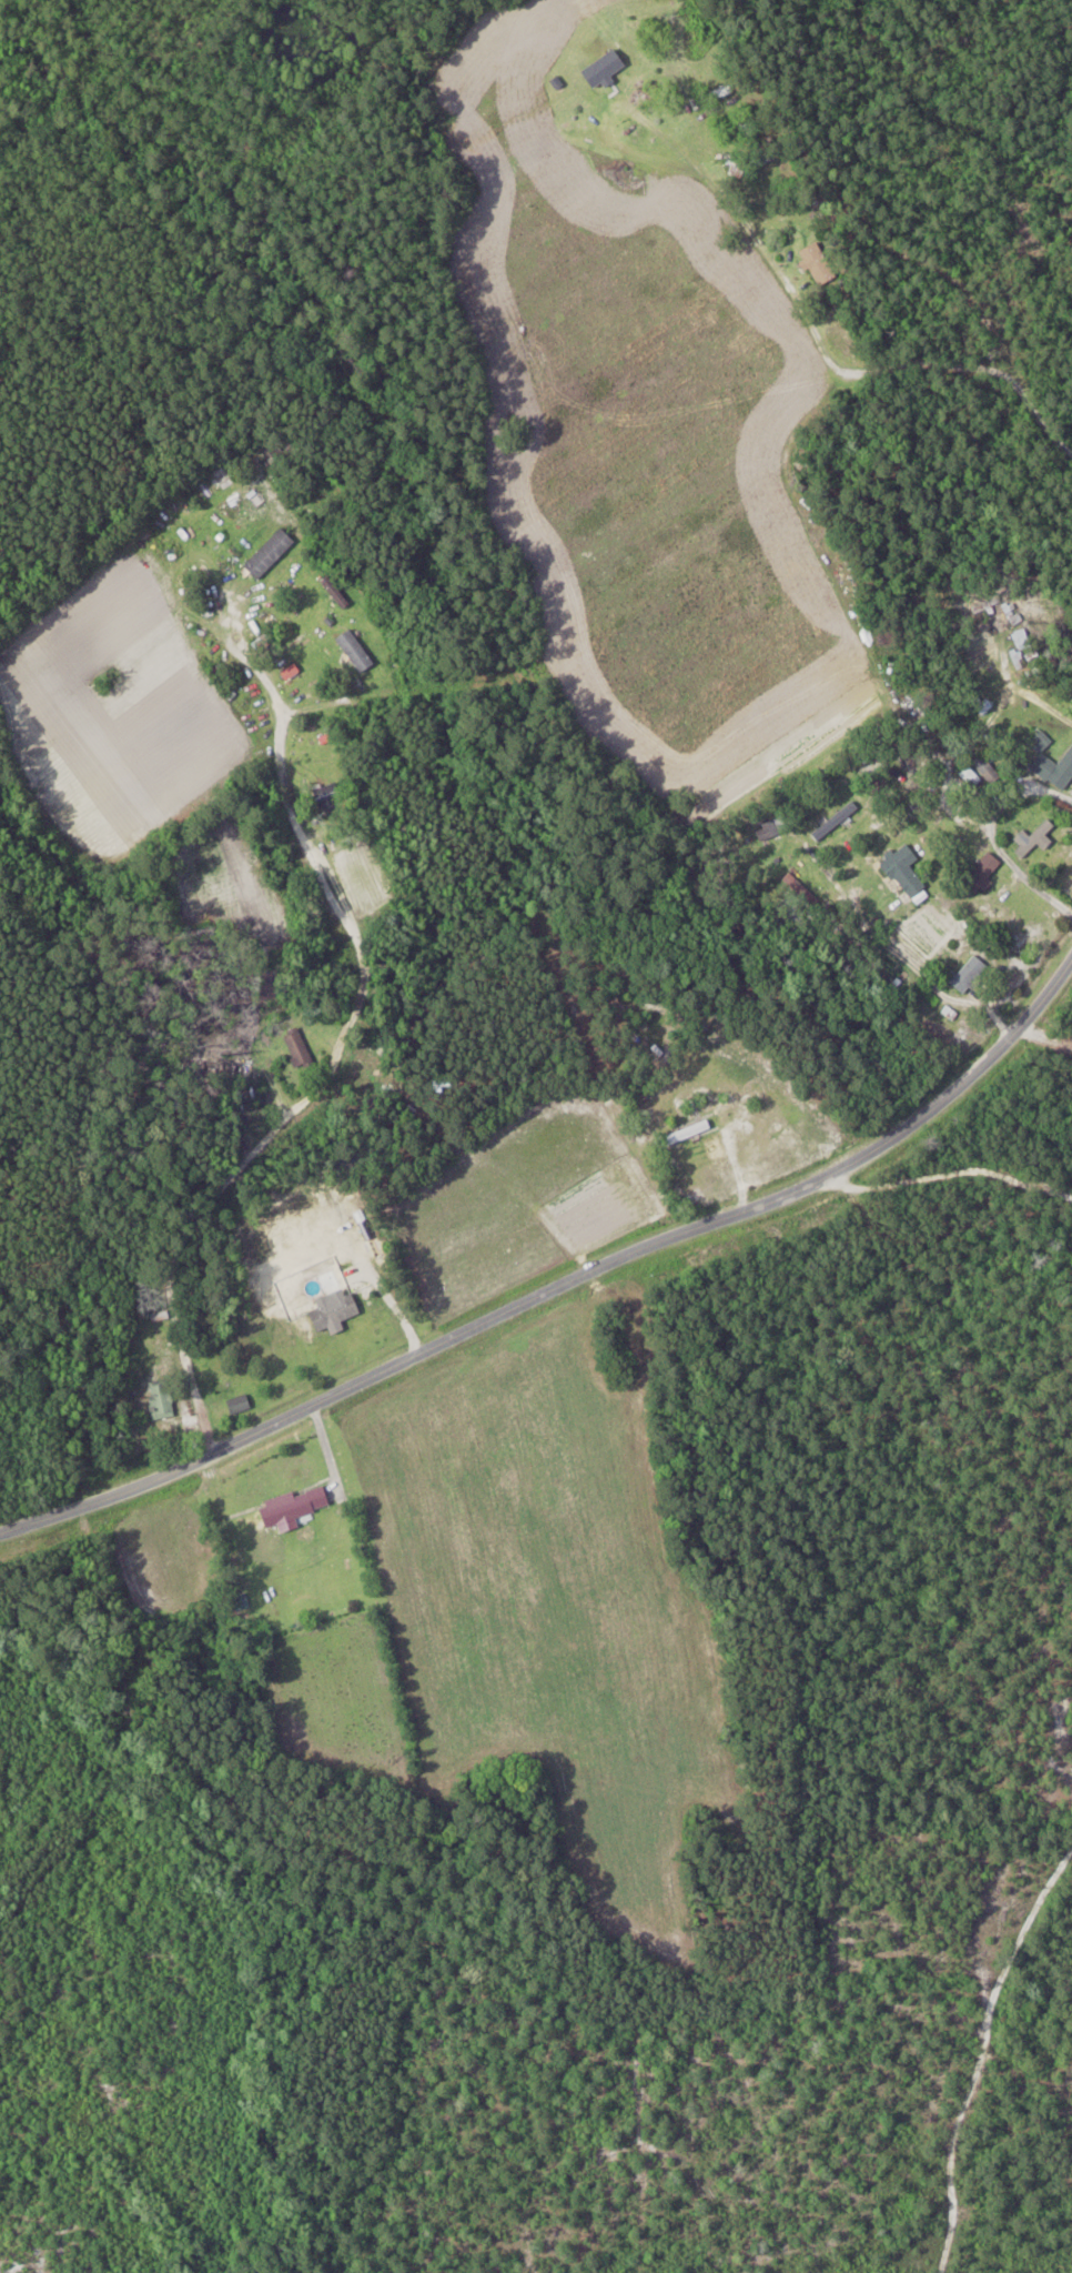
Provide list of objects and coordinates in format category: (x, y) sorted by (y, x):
building: (630, 56)
building: (717, 94)
building: (739, 169)
building: (821, 263)
road: (816, 334)
building: (271, 553)
building: (356, 651)
building: (1055, 771)
building: (328, 794)
building: (836, 821)
building: (772, 829)
building: (1035, 838)
building: (906, 871)
building: (984, 872)
road: (899, 956)
building: (969, 974)
road: (364, 986)
building: (300, 1049)
road: (953, 1169)
road: (563, 1286)
building: (151, 1361)
building: (163, 1399)
building: (240, 1405)
road: (324, 1447)
building: (294, 1508)

